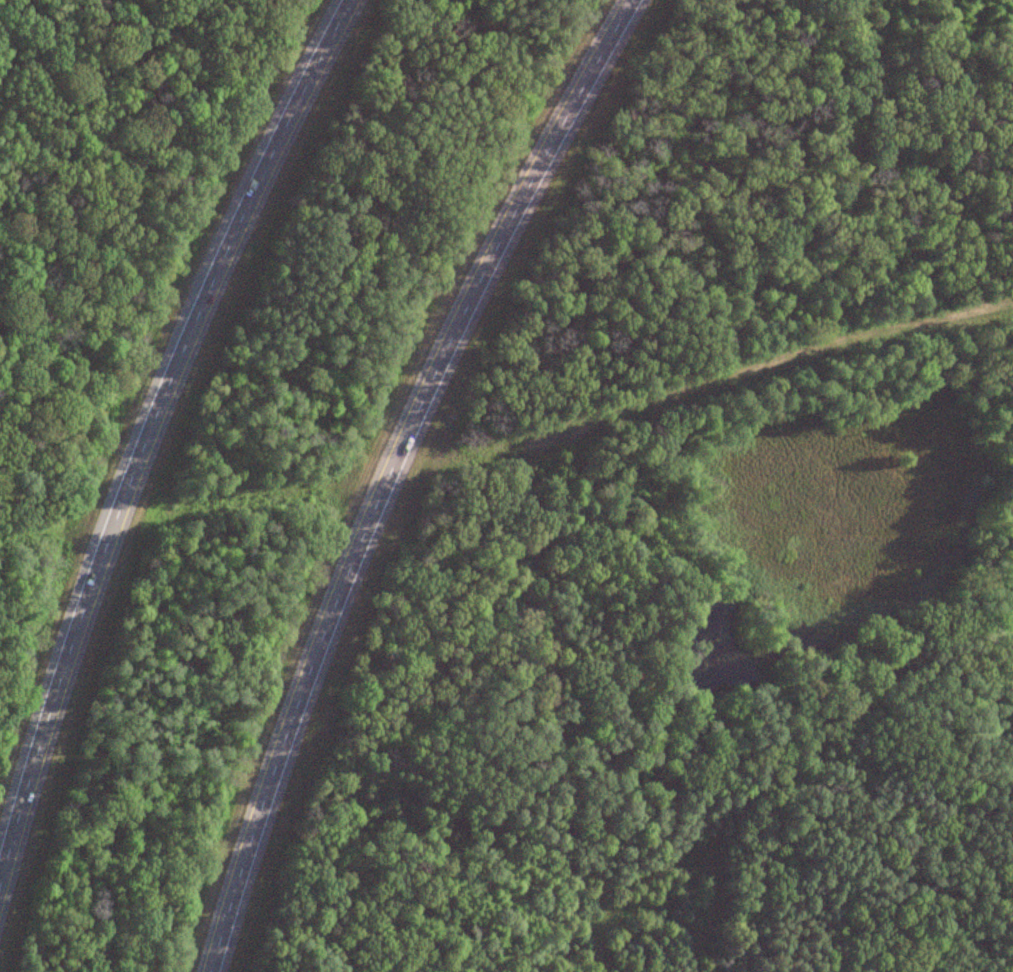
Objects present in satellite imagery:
road: (987, 249)
road: (138, 384)
road: (365, 471)

